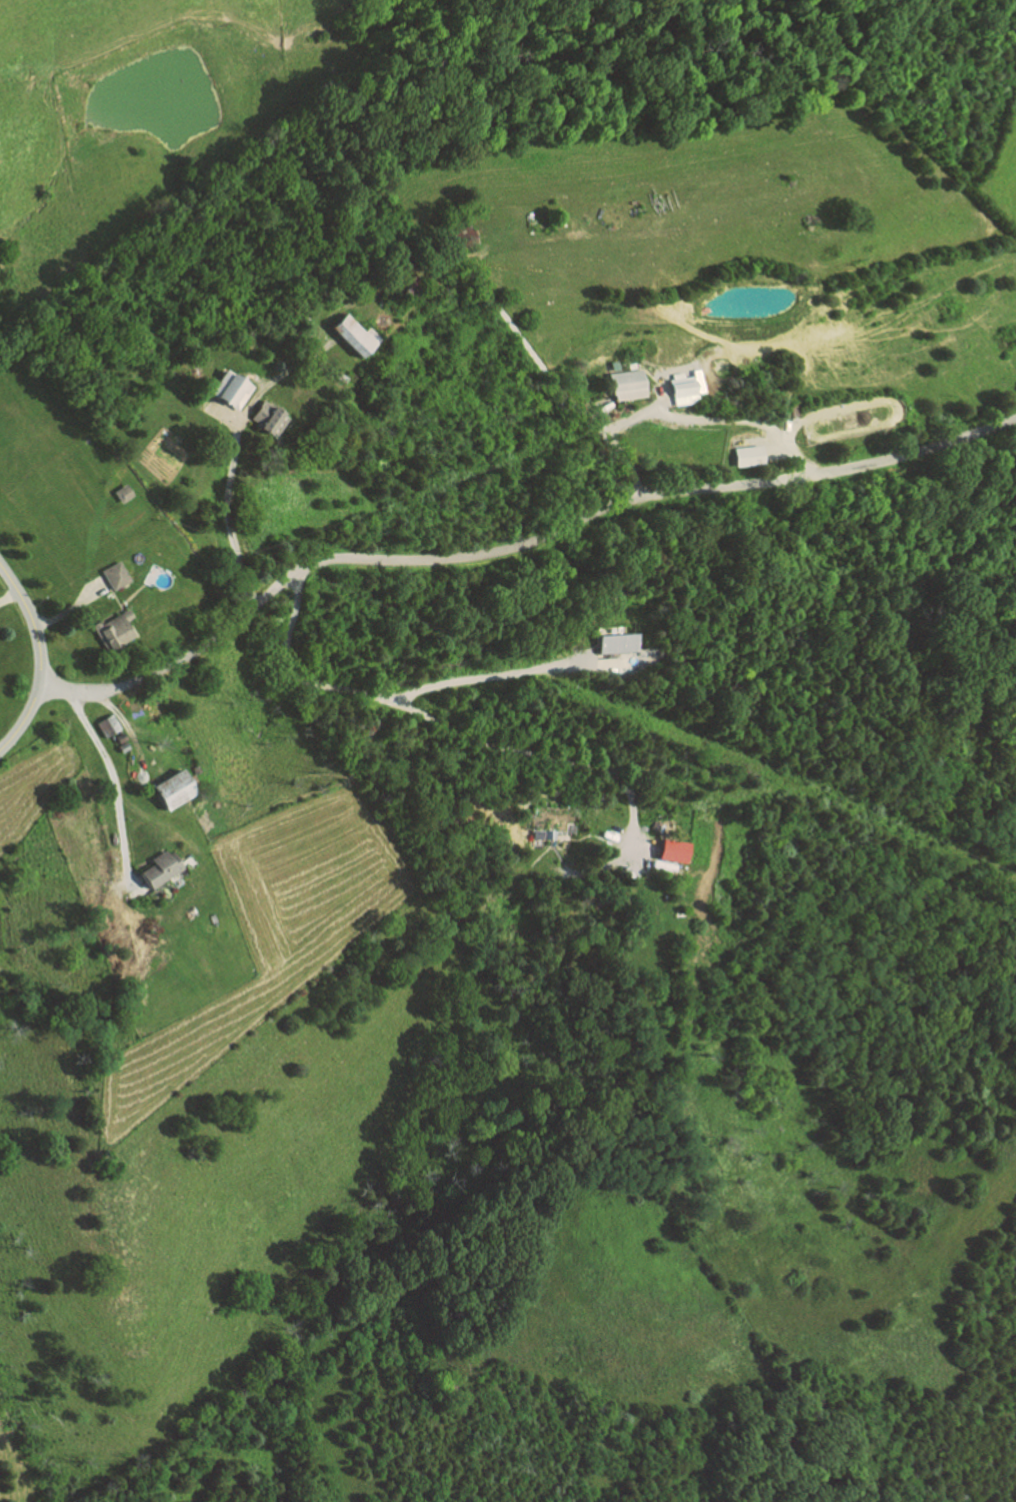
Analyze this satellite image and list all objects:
building: (459, 234)
building: (404, 286)
road: (367, 292)
building: (350, 334)
road: (277, 375)
road: (255, 379)
building: (626, 382)
building: (684, 387)
building: (228, 388)
park: (850, 416)
building: (264, 417)
road: (596, 417)
road: (727, 417)
road: (626, 418)
building: (203, 433)
building: (748, 453)
road: (793, 453)
building: (121, 492)
road: (222, 502)
road: (515, 546)
building: (114, 574)
road: (10, 596)
road: (72, 607)
road: (32, 619)
building: (111, 629)
building: (621, 643)
road: (498, 673)
road: (22, 719)
building: (104, 724)
road: (465, 729)
road: (127, 731)
building: (116, 737)
road: (162, 742)
building: (120, 747)
building: (193, 768)
road: (113, 787)
building: (167, 790)
building: (673, 850)
building: (156, 868)

